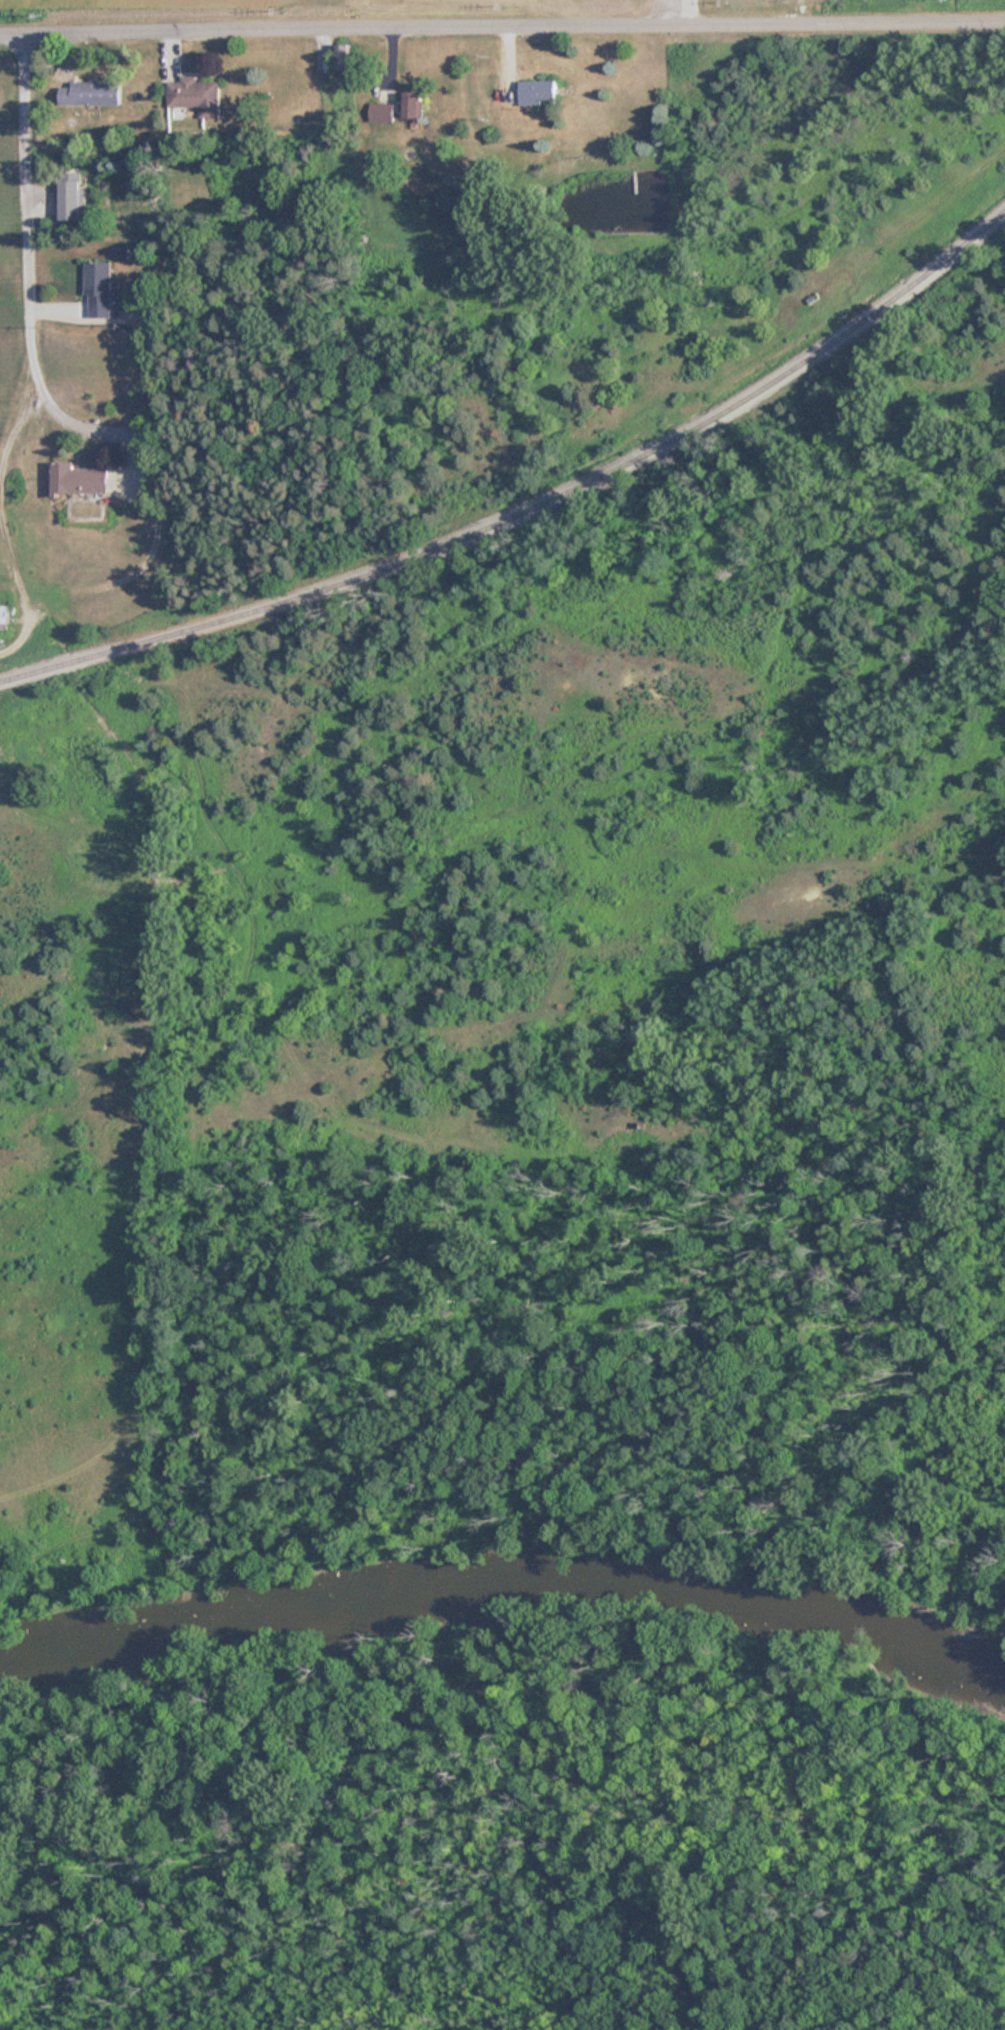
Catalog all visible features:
road: (799, 12)
road: (502, 27)
building: (344, 56)
building: (536, 92)
building: (92, 93)
building: (197, 95)
building: (414, 104)
building: (382, 112)
building: (71, 195)
road: (27, 244)
building: (99, 288)
road: (15, 425)
building: (78, 479)
railway: (533, 508)
road: (19, 590)
building: (3, 616)
river: (503, 1585)
park: (505, 1823)

